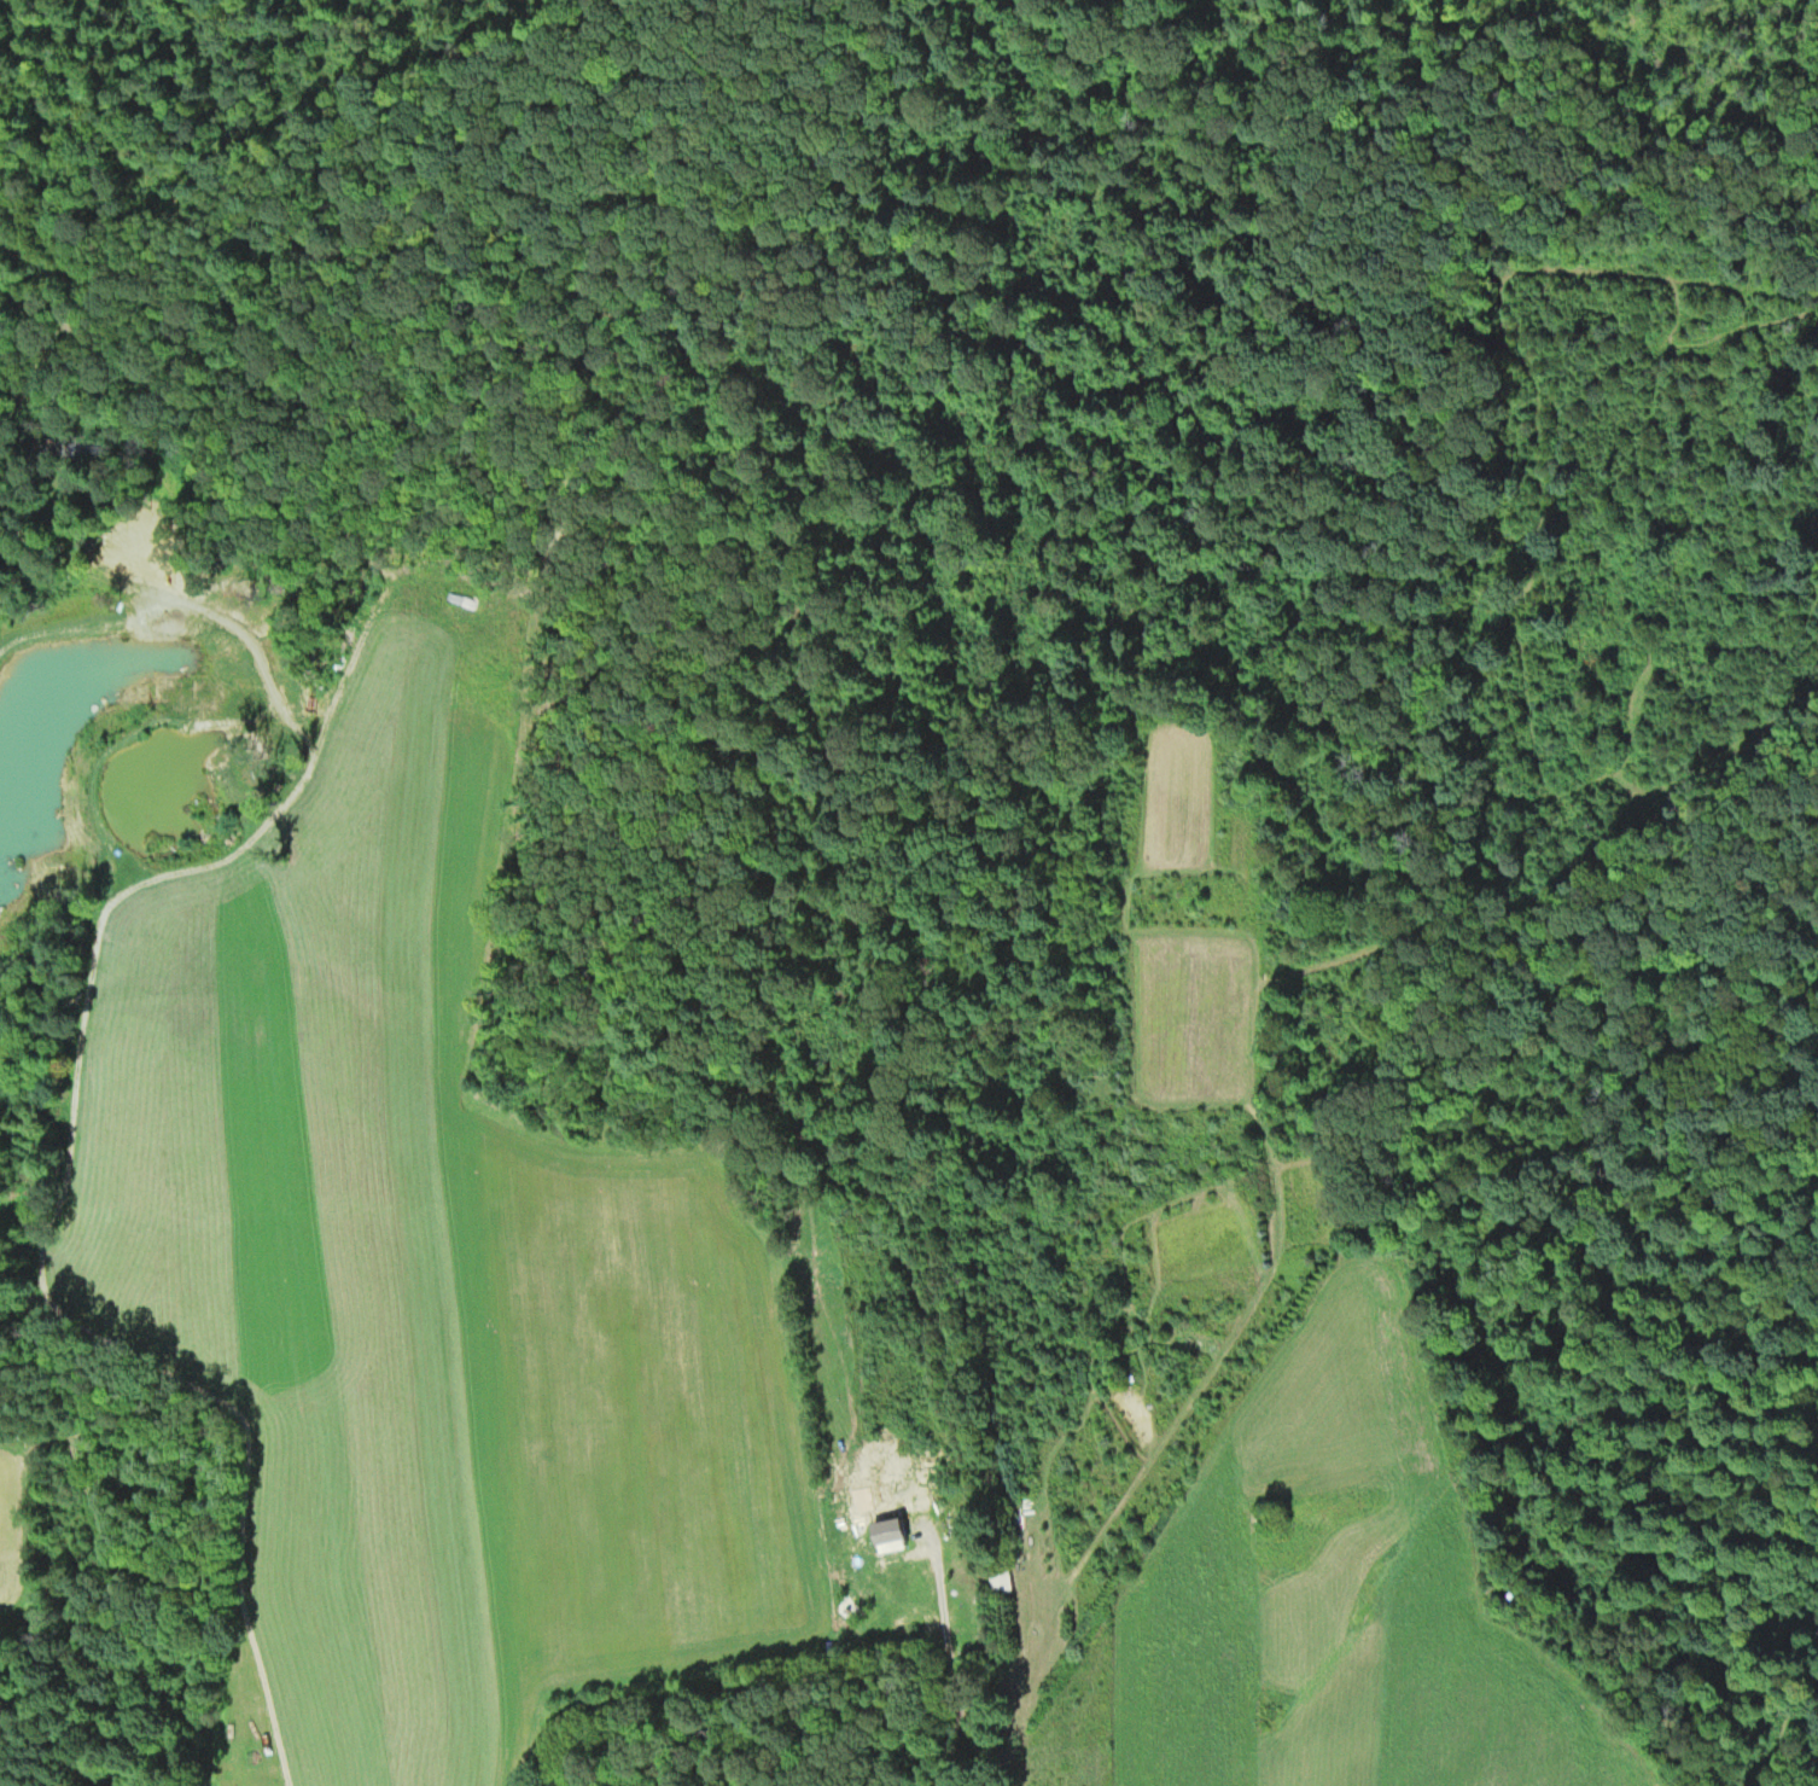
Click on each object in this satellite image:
building: (895, 1531)
building: (1002, 1580)

